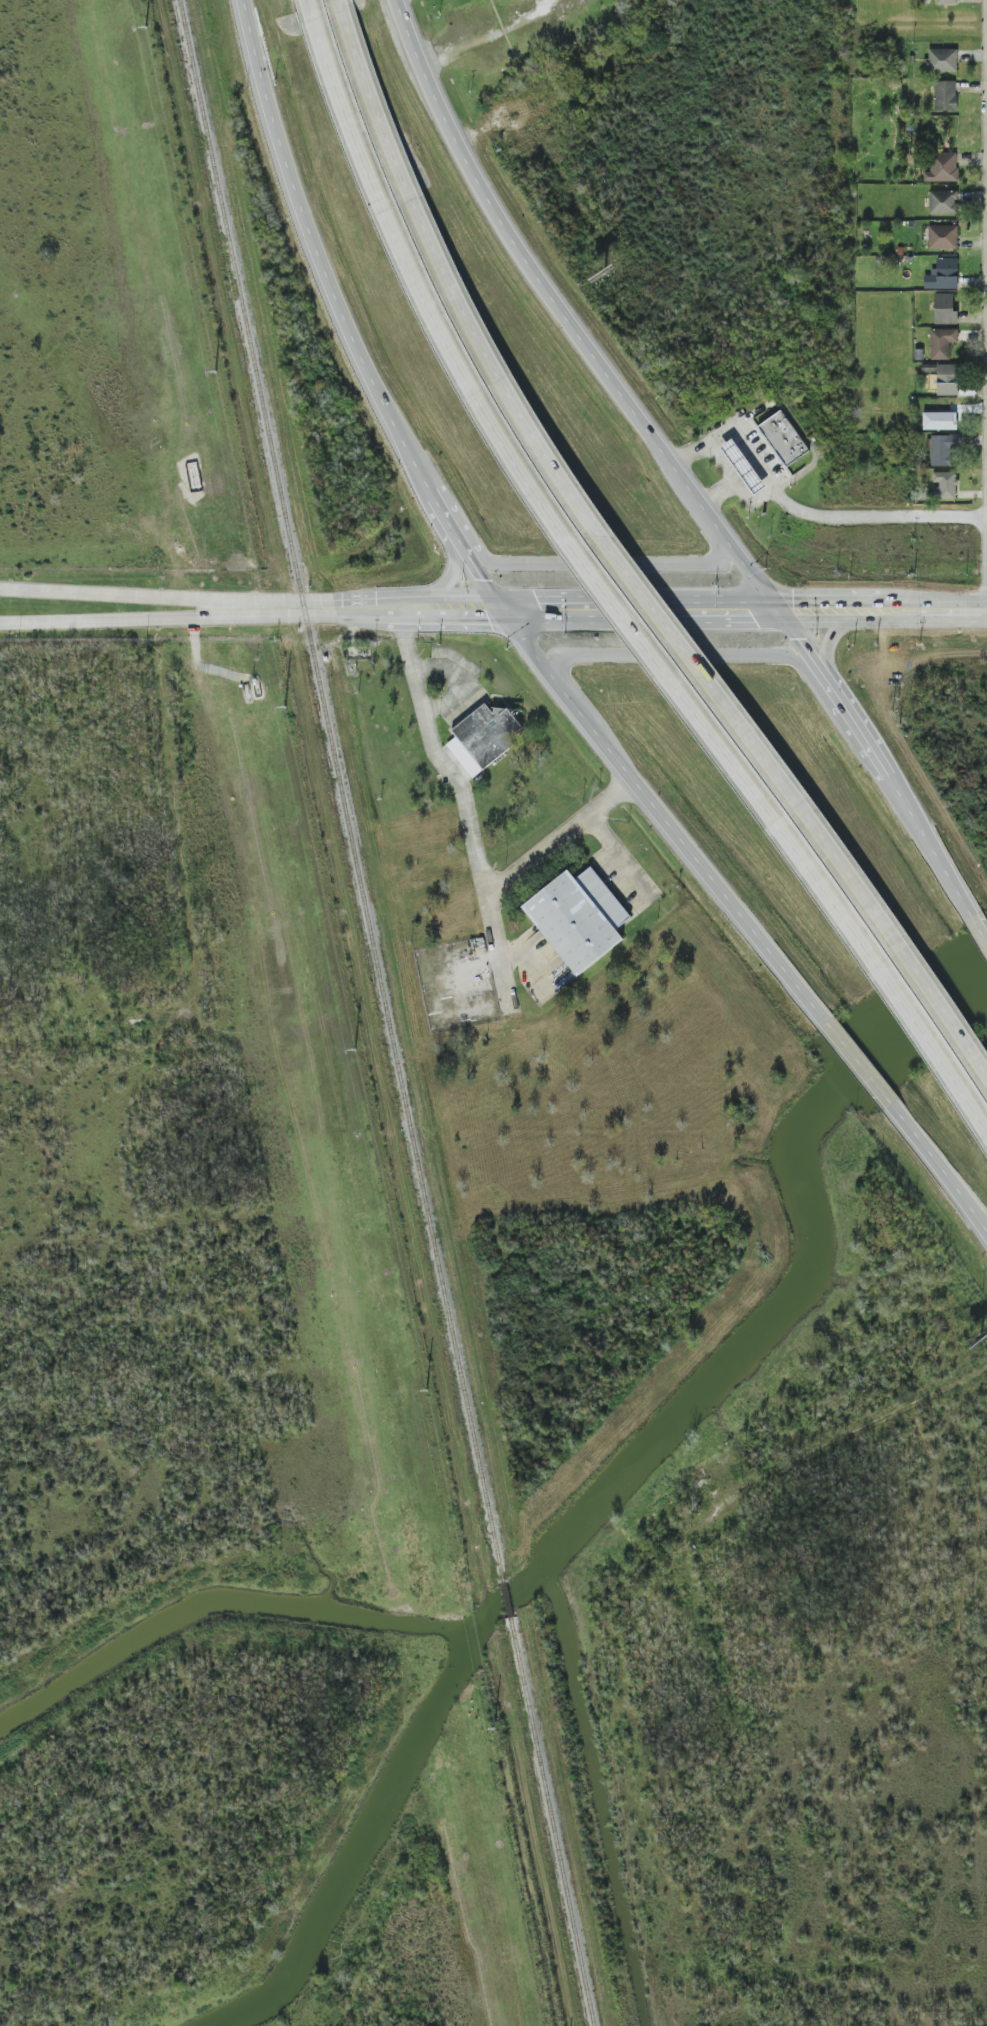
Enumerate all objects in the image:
building: (947, 2)
road: (338, 7)
road: (310, 10)
power tower: (147, 27)
building: (943, 60)
building: (945, 95)
building: (942, 168)
building: (943, 202)
building: (943, 237)
building: (943, 274)
building: (945, 309)
building: (942, 343)
power tower: (216, 372)
building: (947, 379)
building: (940, 420)
building: (784, 438)
road: (709, 442)
building: (943, 449)
road: (667, 465)
building: (743, 466)
gas station: (743, 466)
building: (946, 484)
road: (828, 514)
road: (468, 545)
road: (449, 563)
road: (603, 563)
road: (623, 570)
road: (153, 595)
road: (407, 598)
road: (612, 599)
traffic signals: (508, 608)
road: (643, 608)
traffic signals: (778, 608)
road: (832, 608)
road: (907, 608)
road: (957, 608)
road: (153, 617)
road: (407, 617)
road: (843, 627)
road: (699, 655)
power tower: (285, 706)
building: (483, 738)
railway: (343, 791)
road: (471, 829)
building: (579, 918)
road: (979, 928)
road: (498, 946)
power tower: (355, 1049)
road: (859, 1065)
road: (940, 1169)
road: (986, 1229)
railway: (507, 1601)
railway: (552, 1822)

